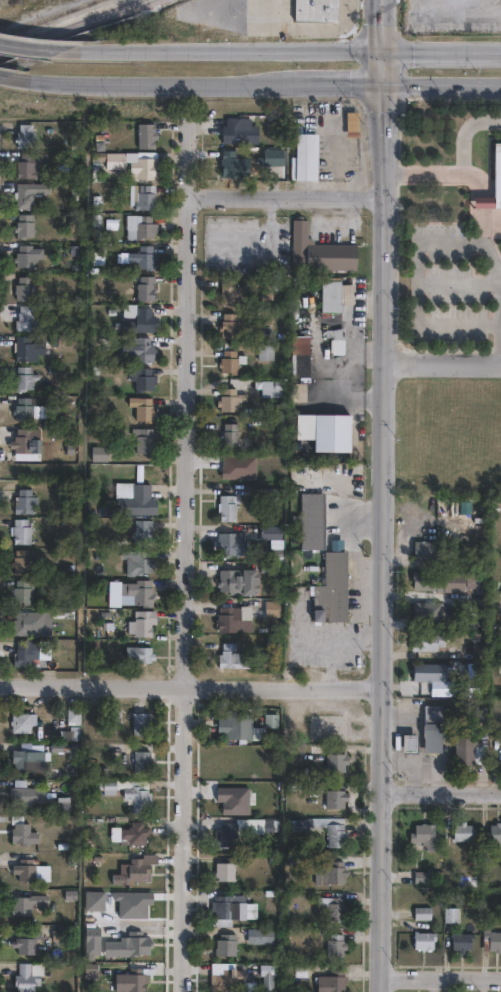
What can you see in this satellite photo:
building: (500, 0)
building: (315, 8)
railway: (48, 17)
railway: (73, 26)
road: (383, 27)
road: (307, 30)
road: (35, 46)
road: (227, 52)
road: (442, 53)
traffic signals: (383, 54)
road: (383, 67)
road: (2, 74)
road: (193, 81)
traffic signals: (383, 81)
road: (442, 81)
building: (240, 128)
building: (145, 132)
road: (463, 132)
building: (24, 133)
road: (338, 148)
building: (274, 153)
building: (306, 154)
road: (186, 156)
building: (116, 157)
building: (234, 161)
building: (30, 162)
building: (144, 162)
road: (440, 173)
building: (496, 174)
building: (27, 190)
building: (141, 193)
road: (283, 194)
building: (483, 202)
road: (483, 202)
building: (140, 222)
road: (381, 222)
building: (24, 223)
building: (319, 249)
building: (26, 253)
building: (140, 254)
road: (500, 284)
building: (145, 285)
building: (23, 286)
road: (417, 290)
building: (230, 291)
building: (331, 294)
building: (24, 316)
building: (143, 317)
building: (229, 320)
building: (336, 337)
building: (27, 347)
building: (141, 347)
building: (266, 350)
road: (365, 351)
building: (300, 354)
road: (350, 355)
building: (231, 360)
road: (440, 364)
building: (23, 377)
building: (141, 377)
building: (272, 387)
building: (230, 398)
building: (142, 407)
building: (22, 408)
building: (332, 432)
building: (230, 434)
building: (143, 438)
building: (25, 443)
building: (24, 498)
building: (137, 498)
building: (227, 507)
building: (312, 520)
building: (20, 528)
building: (142, 529)
building: (267, 531)
building: (229, 543)
building: (426, 545)
building: (141, 558)
building: (20, 559)
building: (430, 576)
building: (238, 581)
building: (332, 587)
building: (22, 589)
building: (138, 589)
road: (183, 593)
road: (353, 603)
building: (429, 606)
building: (271, 609)
building: (234, 619)
building: (27, 620)
building: (141, 620)
building: (428, 637)
road: (332, 639)
building: (481, 647)
building: (25, 650)
building: (137, 651)
building: (232, 657)
building: (430, 667)
road: (379, 677)
building: (467, 683)
road: (189, 686)
building: (73, 717)
road: (420, 718)
building: (271, 719)
building: (22, 722)
building: (141, 723)
building: (236, 725)
building: (432, 726)
building: (72, 733)
road: (397, 739)
building: (409, 742)
gas station: (409, 742)
building: (471, 750)
building: (318, 751)
building: (27, 757)
building: (336, 760)
building: (143, 761)
road: (421, 765)
road: (411, 779)
building: (108, 787)
building: (25, 793)
building: (329, 793)
road: (440, 793)
building: (137, 796)
building: (76, 799)
building: (62, 804)
building: (255, 824)
building: (337, 831)
building: (463, 831)
building: (496, 831)
building: (22, 832)
building: (135, 833)
building: (226, 833)
building: (425, 834)
building: (25, 869)
building: (139, 870)
building: (224, 870)
building: (331, 872)
building: (424, 875)
building: (27, 904)
building: (139, 905)
building: (233, 906)
building: (334, 906)
building: (423, 912)
building: (451, 912)
building: (425, 934)
building: (92, 935)
building: (260, 935)
building: (490, 936)
building: (463, 939)
building: (26, 942)
building: (226, 944)
building: (336, 944)
building: (128, 945)
building: (268, 975)
building: (28, 976)
road: (439, 978)
building: (134, 980)
building: (225, 980)
building: (332, 981)

